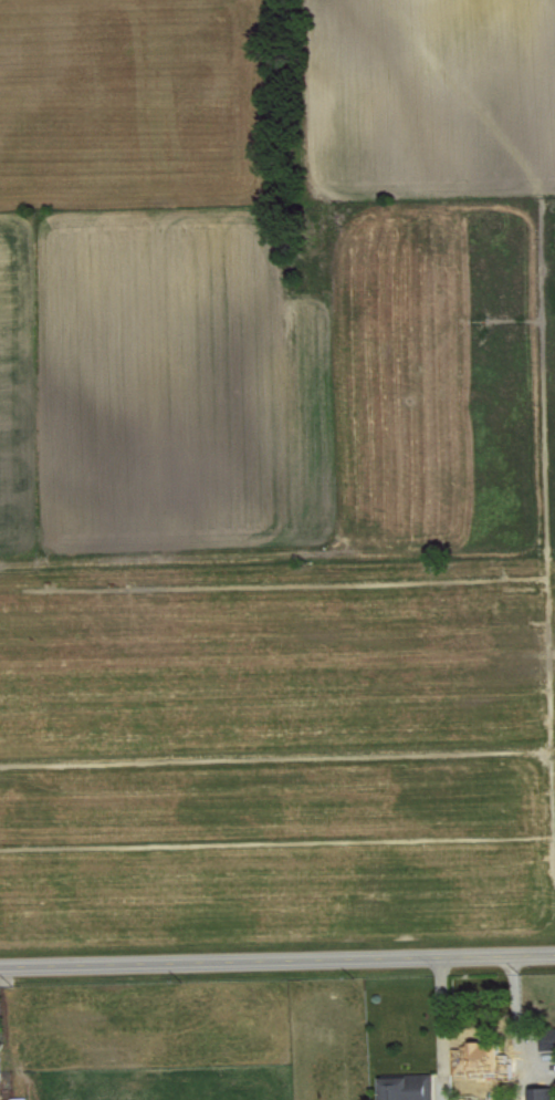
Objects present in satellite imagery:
road: (276, 962)
road: (519, 1029)
road: (441, 1030)
building: (547, 1036)
building: (486, 1055)
building: (407, 1086)
building: (541, 1092)
building: (19, 1098)

